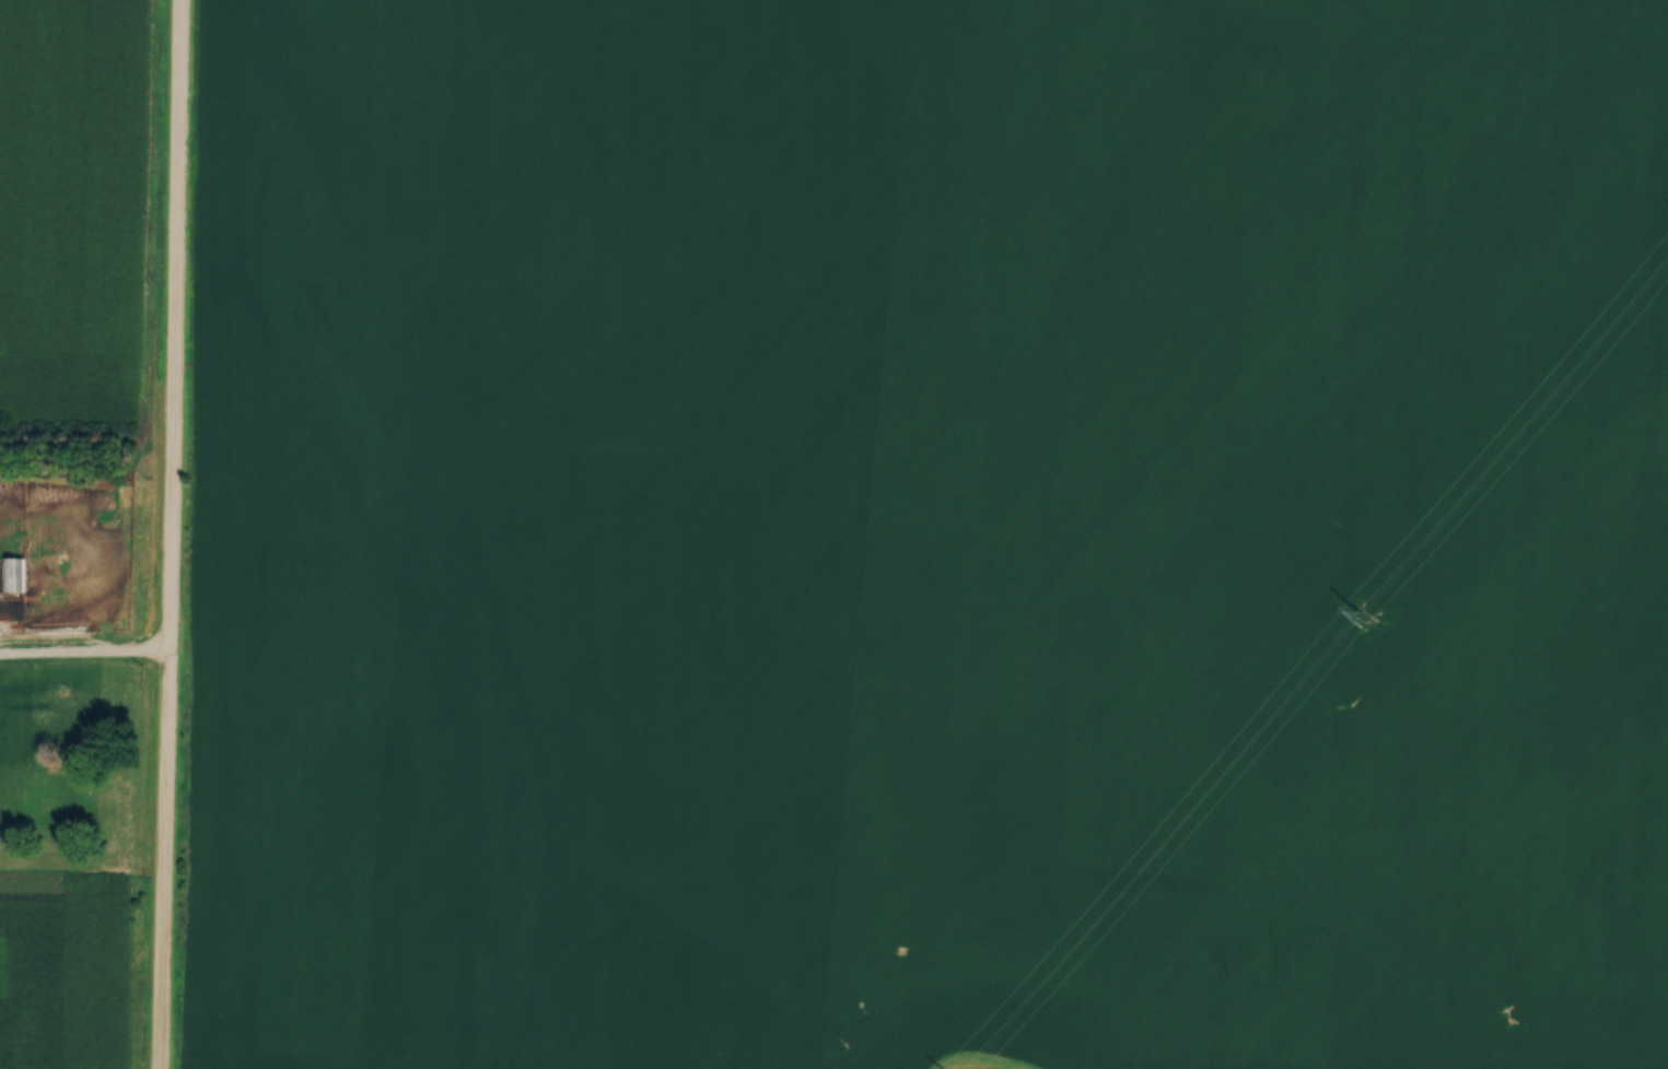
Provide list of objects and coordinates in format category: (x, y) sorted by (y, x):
road: (167, 534)
building: (12, 569)
power tower: (1380, 602)
road: (82, 657)

